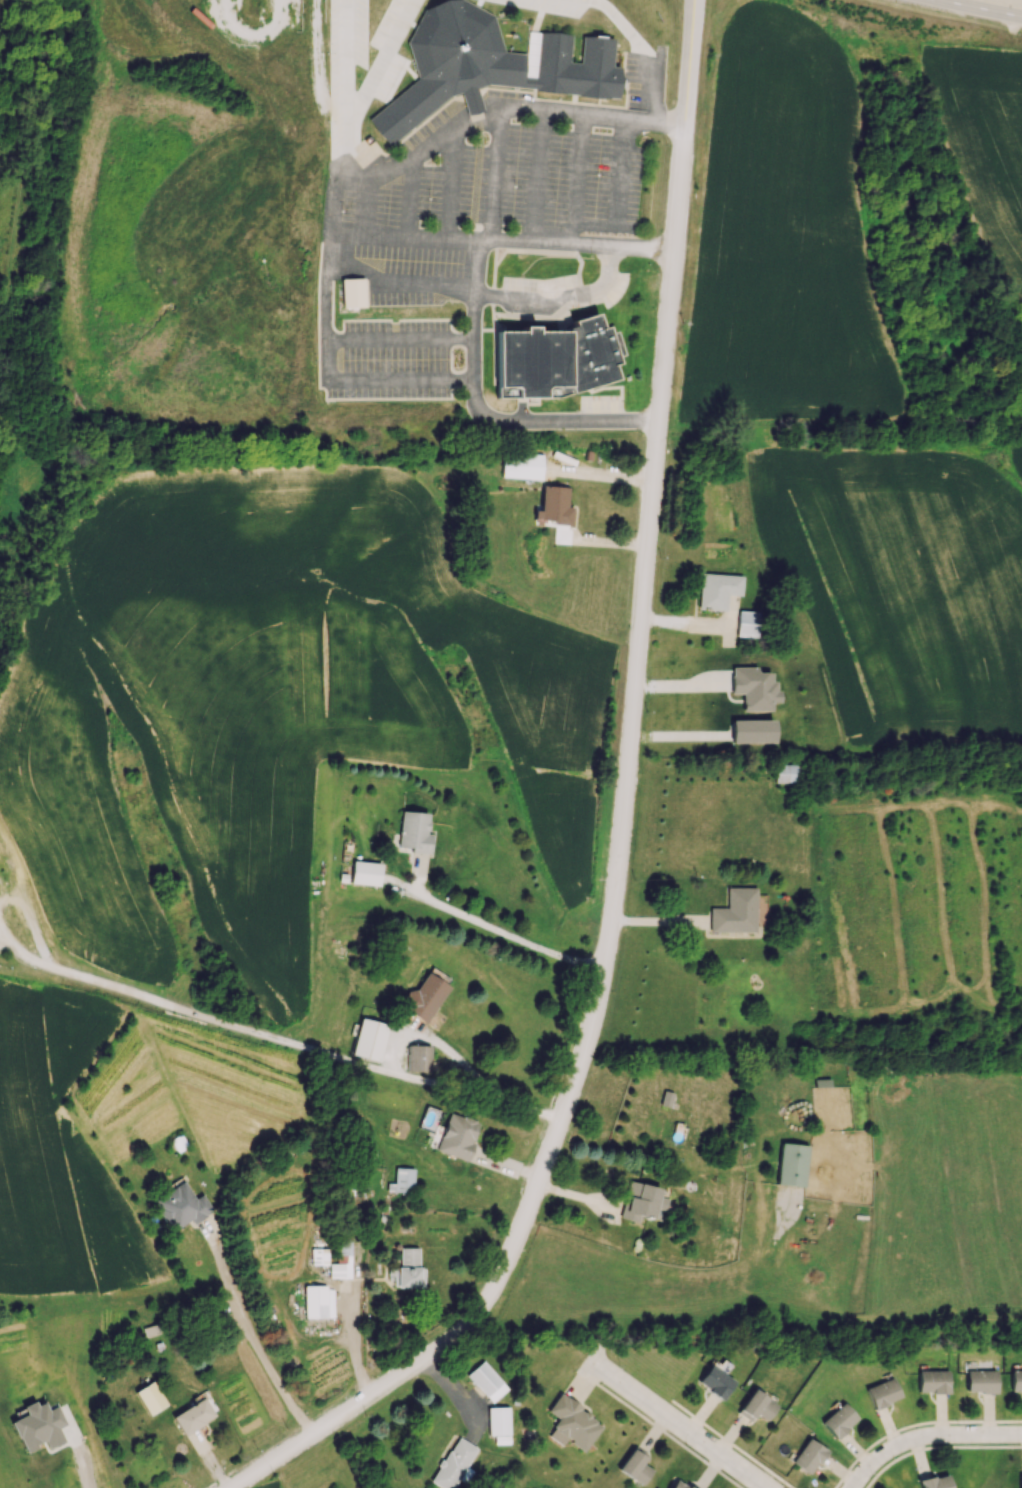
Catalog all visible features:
road: (979, 8)
road: (638, 50)
road: (378, 61)
building: (488, 65)
road: (687, 70)
road: (346, 96)
road: (477, 122)
road: (478, 138)
crop: (986, 160)
parking lot: (491, 172)
road: (535, 178)
road: (574, 180)
road: (475, 183)
road: (618, 183)
road: (352, 184)
road: (449, 187)
road: (408, 200)
crop: (144, 210)
road: (365, 213)
road: (475, 231)
road: (501, 242)
crop: (788, 243)
road: (399, 281)
building: (352, 292)
road: (559, 298)
road: (399, 337)
building: (552, 360)
road: (484, 413)
building: (521, 465)
building: (554, 505)
crop: (922, 580)
building: (717, 590)
building: (747, 623)
road: (678, 685)
building: (753, 688)
crop: (285, 715)
building: (751, 731)
building: (786, 773)
building: (414, 831)
building: (365, 873)
road: (612, 888)
building: (735, 911)
road: (655, 920)
road: (508, 937)
building: (423, 997)
road: (250, 1028)
building: (369, 1039)
building: (418, 1058)
building: (821, 1082)
road: (490, 1085)
building: (457, 1136)
building: (791, 1164)
building: (401, 1180)
building: (641, 1201)
building: (181, 1206)
building: (318, 1256)
building: (341, 1260)
building: (407, 1270)
building: (318, 1301)
road: (352, 1322)
road: (252, 1335)
building: (1016, 1380)
building: (486, 1382)
building: (715, 1382)
building: (933, 1382)
building: (980, 1382)
building: (882, 1392)
building: (150, 1397)
road: (461, 1397)
building: (755, 1406)
building: (193, 1416)
building: (498, 1421)
building: (838, 1421)
building: (570, 1422)
building: (38, 1425)
road: (915, 1425)
road: (681, 1427)
road: (668, 1435)
road: (924, 1435)
building: (501, 1440)
road: (731, 1443)
road: (935, 1446)
building: (808, 1455)
building: (455, 1465)
building: (634, 1466)
road: (83, 1469)
building: (1020, 1481)
building: (933, 1482)
building: (676, 1485)
crop: (267, 1486)
building: (689, 1486)

